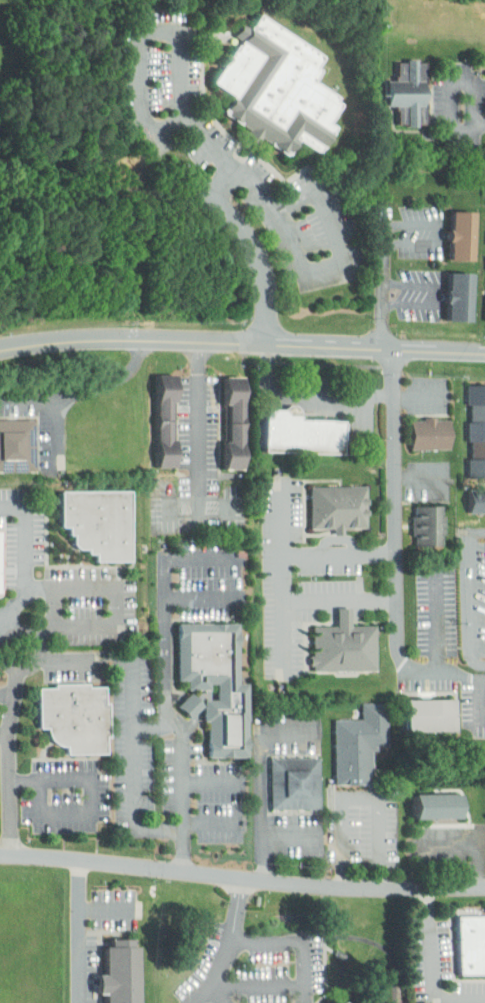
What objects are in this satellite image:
road: (453, 82)
building: (278, 87)
building: (393, 88)
building: (410, 92)
road: (169, 123)
road: (481, 128)
road: (229, 166)
road: (221, 184)
building: (481, 210)
building: (445, 231)
road: (439, 235)
building: (461, 235)
road: (259, 253)
road: (386, 280)
building: (479, 286)
building: (443, 293)
building: (460, 295)
road: (438, 296)
road: (99, 337)
road: (234, 340)
road: (377, 346)
road: (84, 390)
road: (309, 393)
road: (418, 395)
building: (149, 413)
building: (217, 415)
building: (165, 418)
building: (234, 421)
building: (415, 427)
road: (200, 429)
building: (477, 429)
building: (431, 434)
building: (302, 437)
building: (18, 445)
road: (420, 478)
road: (395, 496)
building: (477, 500)
building: (337, 506)
building: (97, 522)
building: (428, 524)
road: (284, 526)
road: (200, 559)
road: (286, 581)
road: (79, 589)
building: (480, 589)
road: (468, 594)
road: (201, 597)
road: (55, 606)
road: (14, 608)
road: (4, 616)
road: (437, 624)
road: (166, 635)
road: (288, 635)
road: (0, 647)
building: (343, 648)
road: (65, 661)
road: (432, 676)
building: (213, 685)
road: (7, 695)
building: (175, 699)
road: (484, 699)
road: (12, 703)
road: (194, 707)
building: (426, 717)
building: (71, 719)
road: (176, 721)
road: (156, 729)
road: (4, 735)
building: (359, 745)
road: (136, 769)
building: (482, 779)
road: (264, 782)
road: (214, 783)
building: (293, 784)
road: (10, 795)
road: (95, 796)
road: (359, 799)
building: (420, 799)
road: (186, 801)
building: (436, 807)
road: (214, 823)
road: (290, 836)
road: (242, 876)
road: (107, 909)
road: (79, 932)
road: (300, 941)
road: (231, 945)
building: (470, 945)
road: (433, 969)
building: (118, 975)
road: (257, 986)
road: (218, 995)
building: (317, 1000)
building: (332, 1002)

